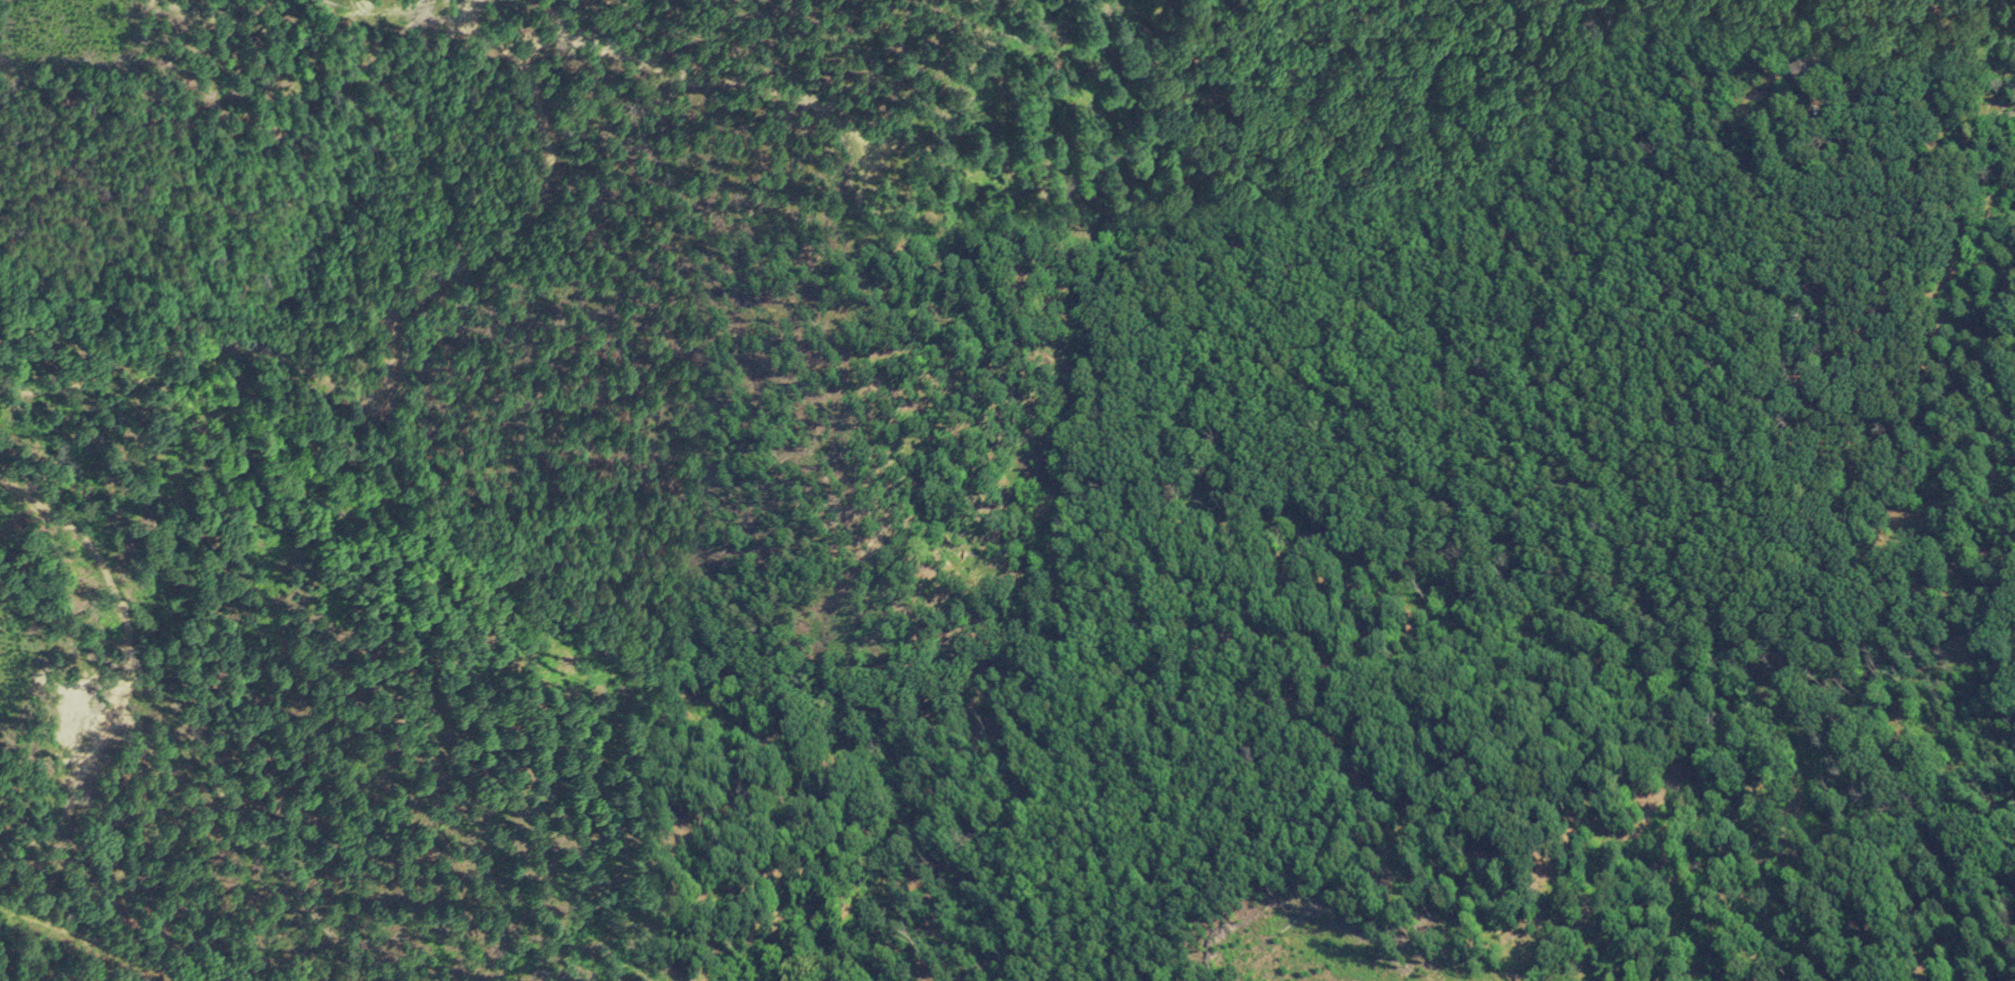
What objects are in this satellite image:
road: (1956, 887)

